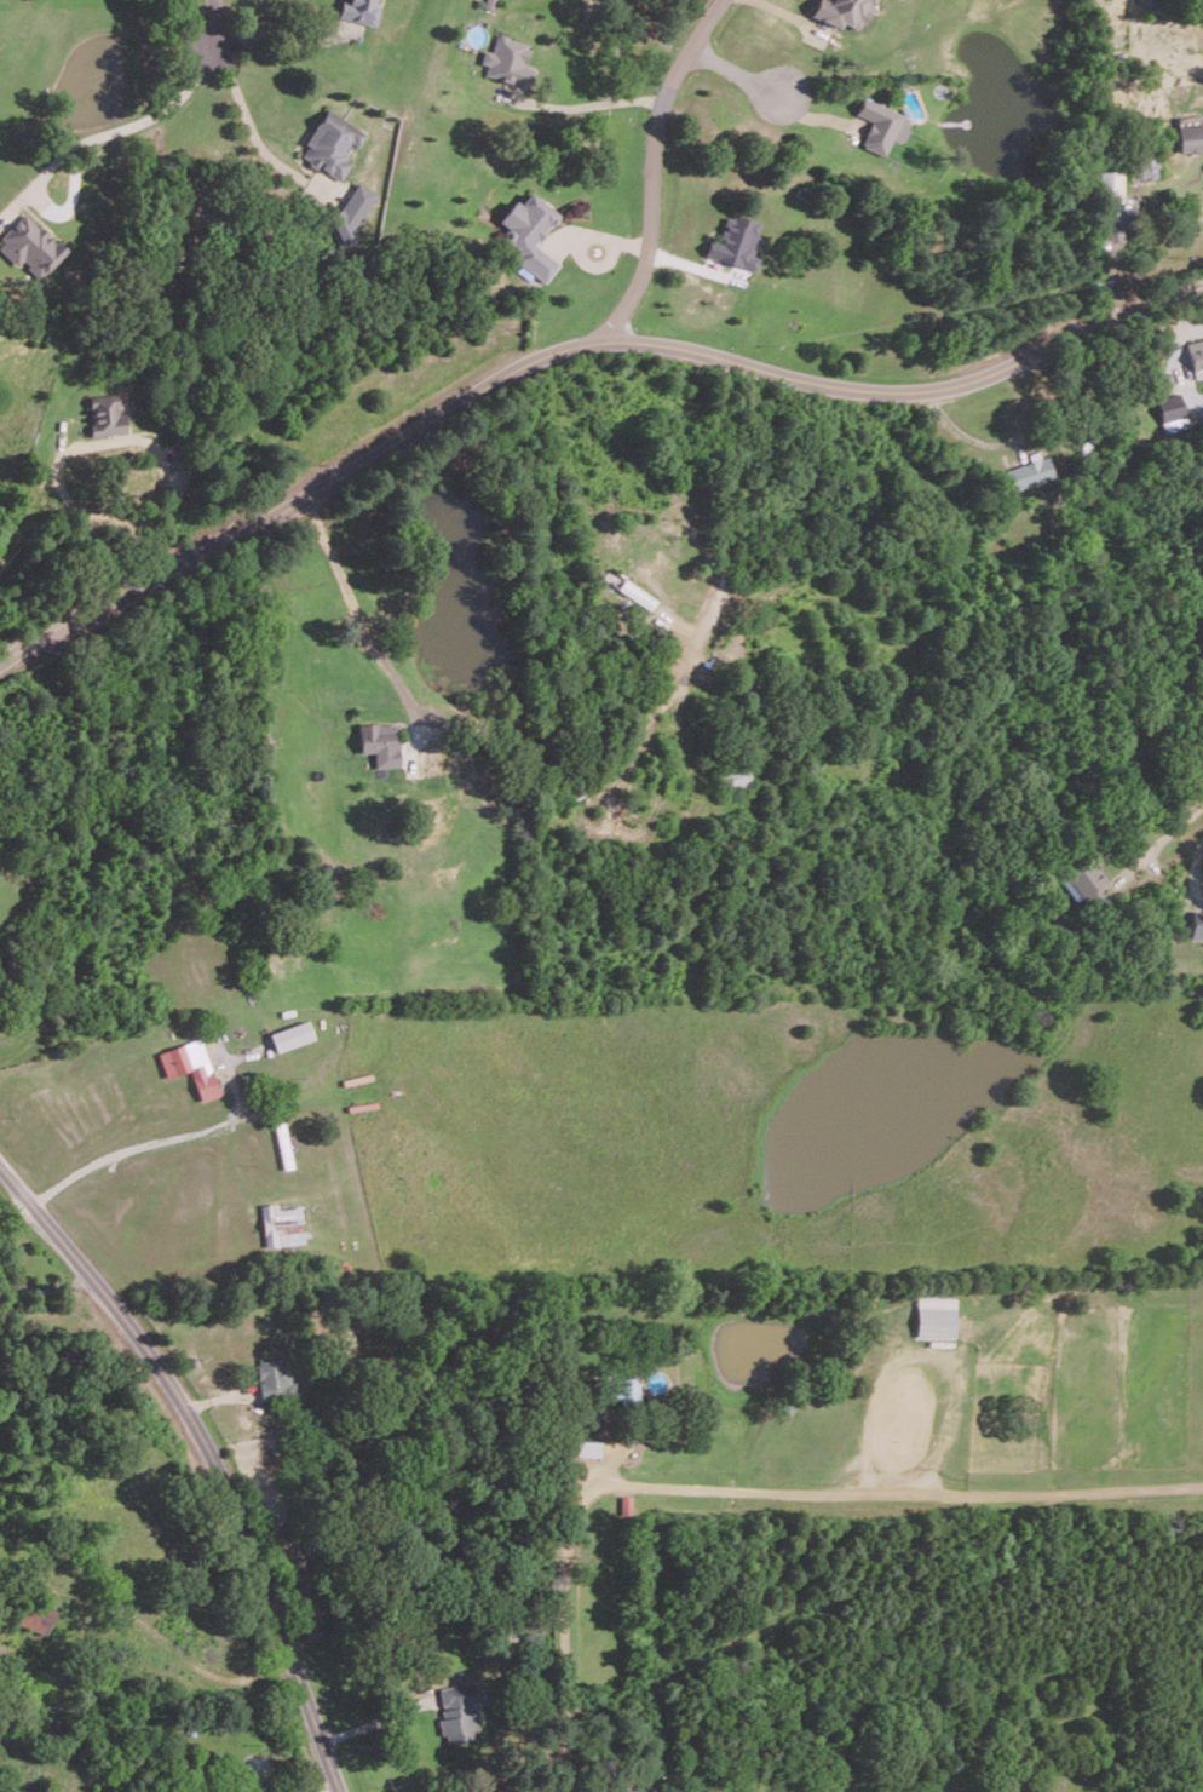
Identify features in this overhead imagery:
building: (358, 10)
building: (842, 11)
road: (212, 21)
road: (283, 34)
building: (508, 59)
road: (735, 70)
road: (585, 103)
road: (128, 124)
building: (881, 125)
road: (252, 128)
building: (1190, 137)
building: (330, 143)
road: (644, 162)
building: (1144, 170)
building: (1110, 185)
building: (352, 209)
building: (530, 234)
building: (736, 242)
building: (30, 246)
road: (574, 345)
building: (1196, 356)
building: (1172, 412)
building: (105, 414)
building: (1030, 472)
road: (727, 515)
road: (81, 516)
building: (637, 593)
road: (356, 609)
building: (380, 742)
building: (736, 776)
road: (1164, 834)
road: (1198, 862)
building: (1089, 884)
building: (1197, 921)
building: (290, 1034)
building: (190, 1066)
road: (167, 1138)
building: (281, 1224)
building: (934, 1316)
building: (275, 1378)
building: (628, 1390)
road: (213, 1454)
road: (743, 1488)
building: (39, 1618)
building: (460, 1710)
building: (631, 1790)

